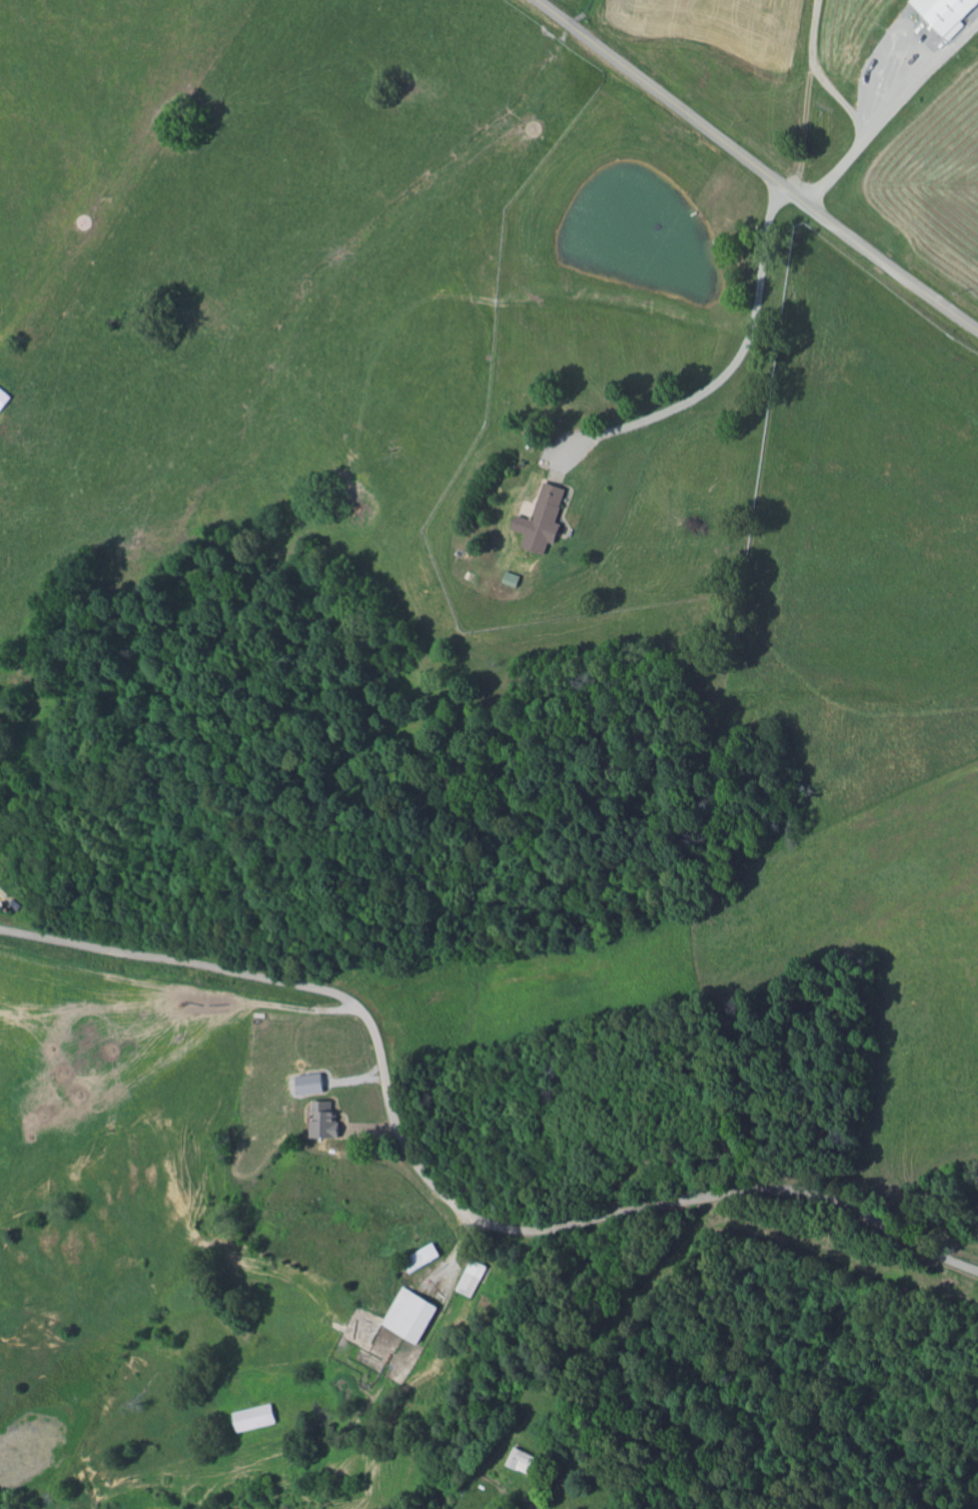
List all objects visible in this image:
building: (950, 14)
road: (801, 91)
road: (909, 126)
road: (755, 164)
road: (81, 183)
building: (6, 399)
building: (547, 521)
road: (776, 550)
building: (516, 580)
building: (314, 1084)
building: (329, 1120)
road: (440, 1191)
building: (426, 1259)
building: (476, 1279)
road: (509, 1314)
building: (415, 1316)
building: (259, 1419)
building: (528, 1462)

